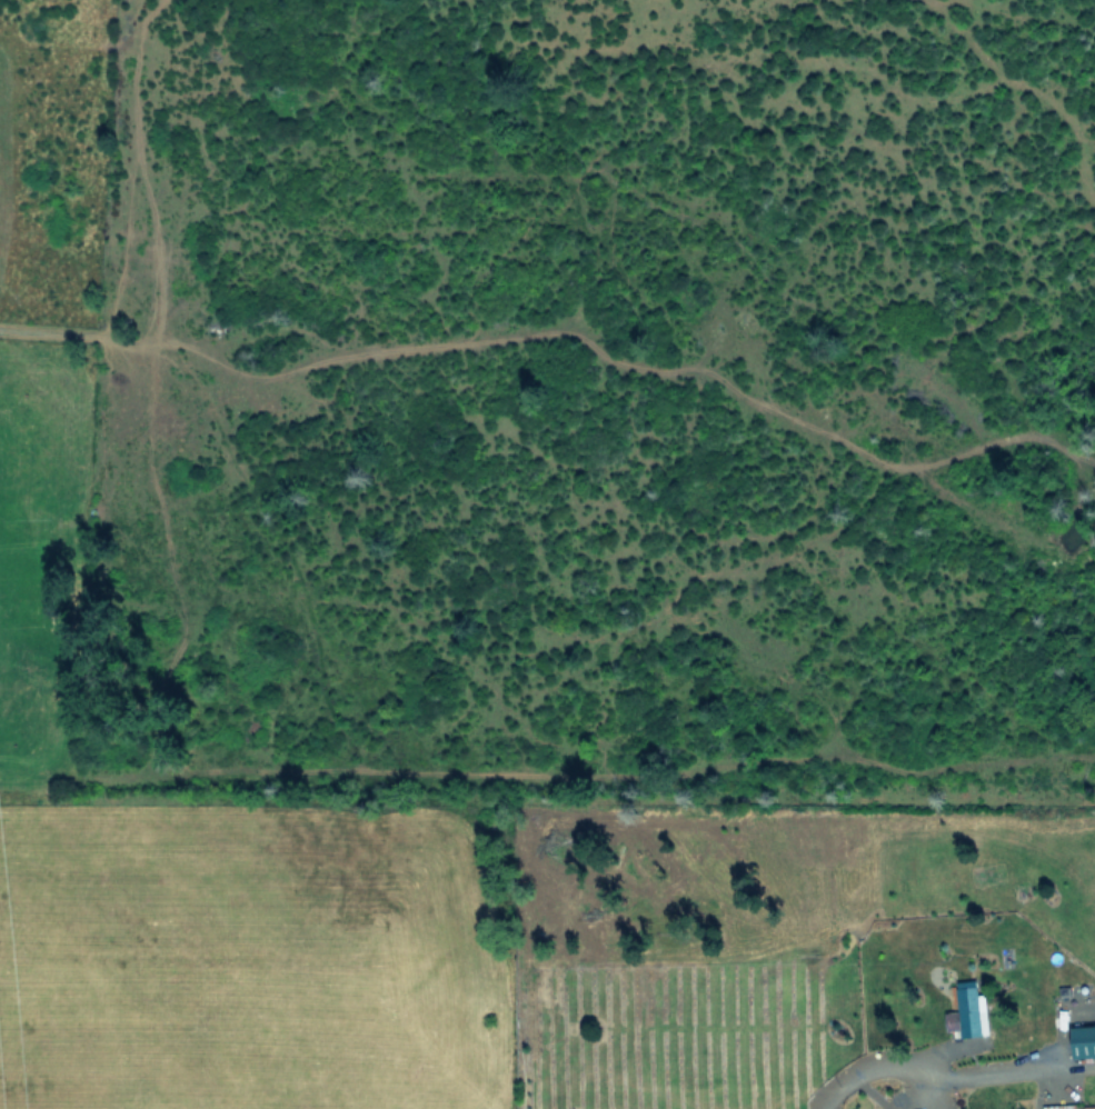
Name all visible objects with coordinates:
building: (968, 1009)
road: (946, 1075)

